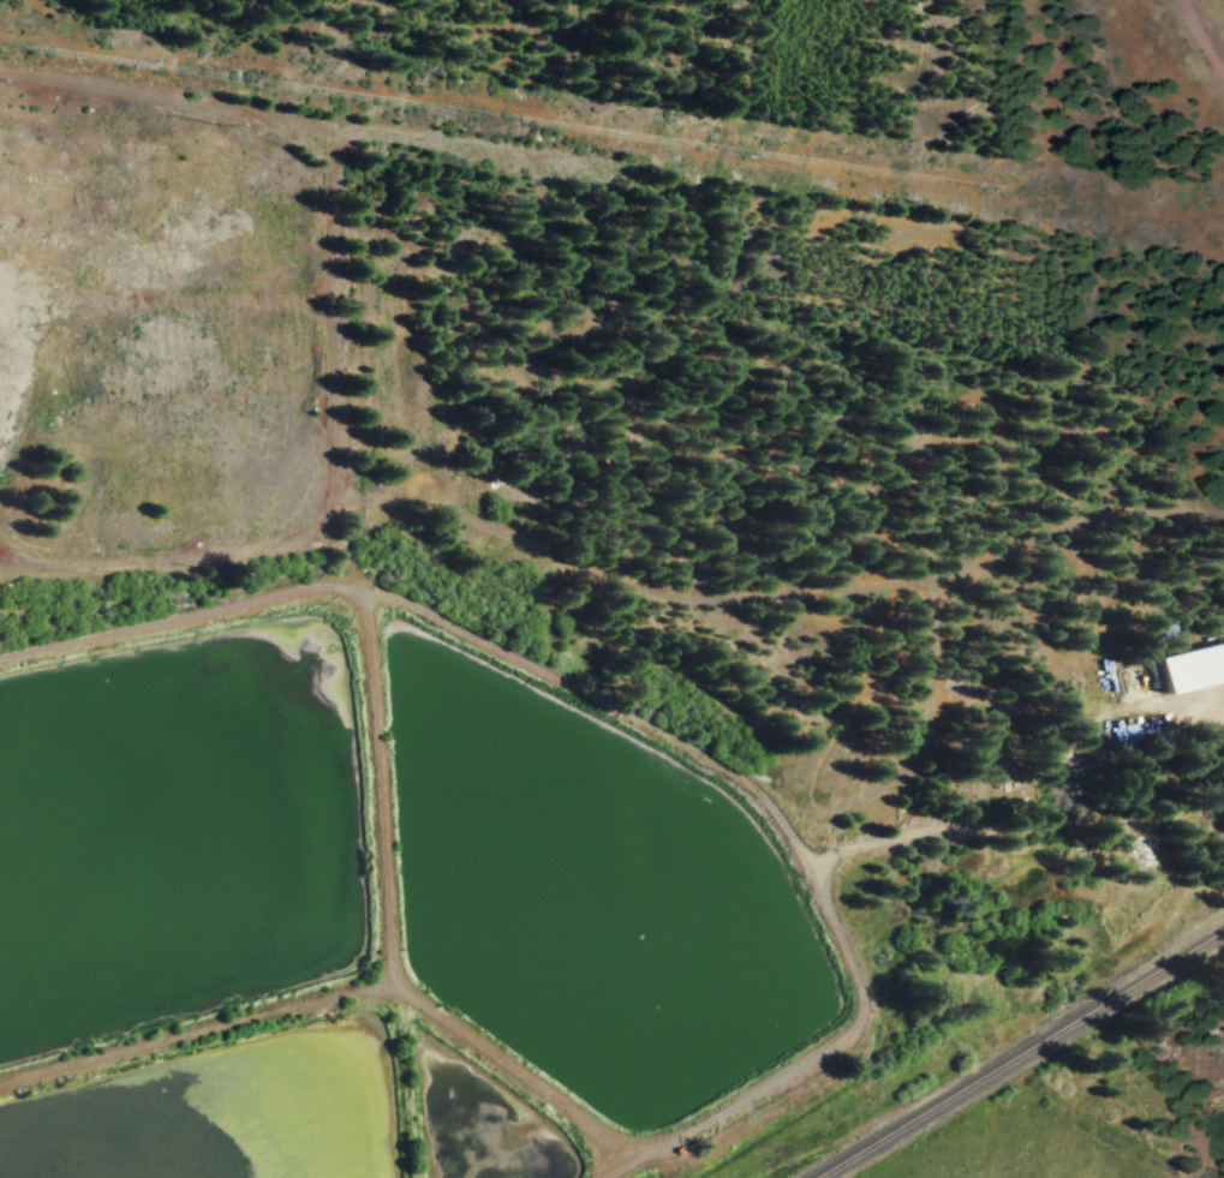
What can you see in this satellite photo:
road: (1205, 31)
road: (598, 570)
building: (1193, 666)
wastewater plant: (166, 848)
wastewater plant: (590, 902)
railway: (1022, 1054)
wastewater plant: (283, 1120)

